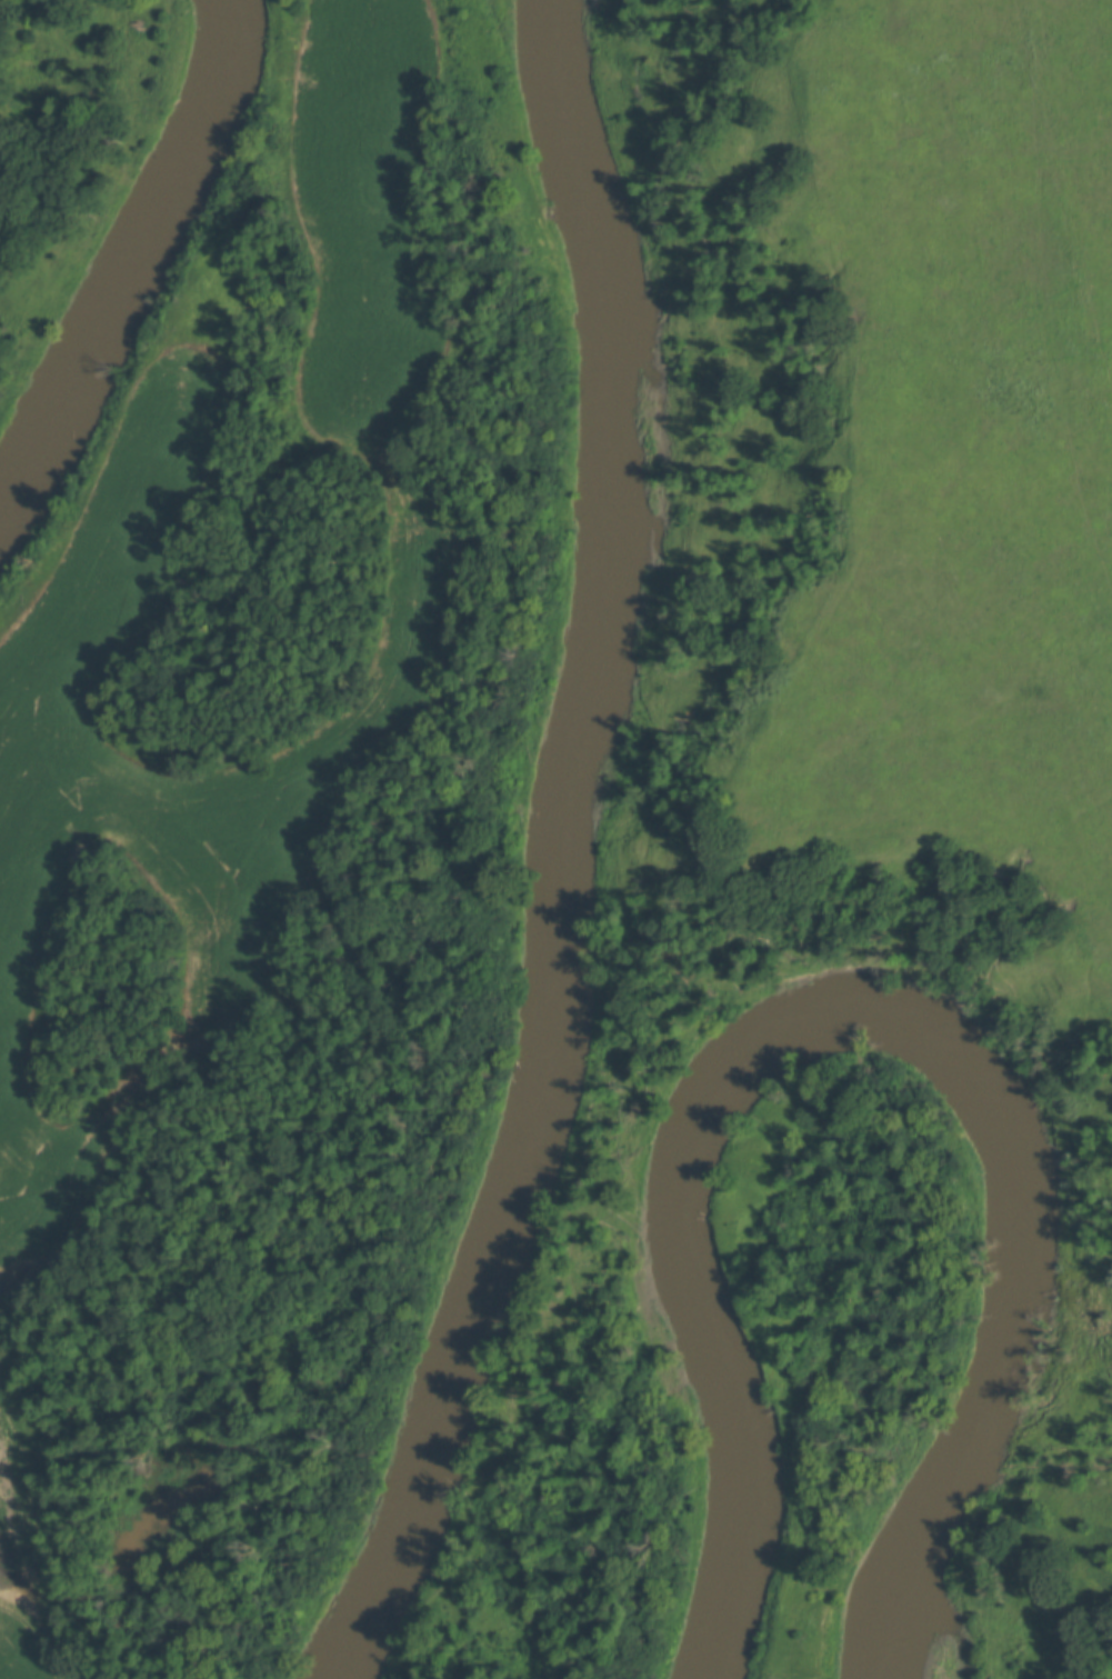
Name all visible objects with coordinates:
river: (143, 270)
river: (572, 850)
river: (858, 1030)

